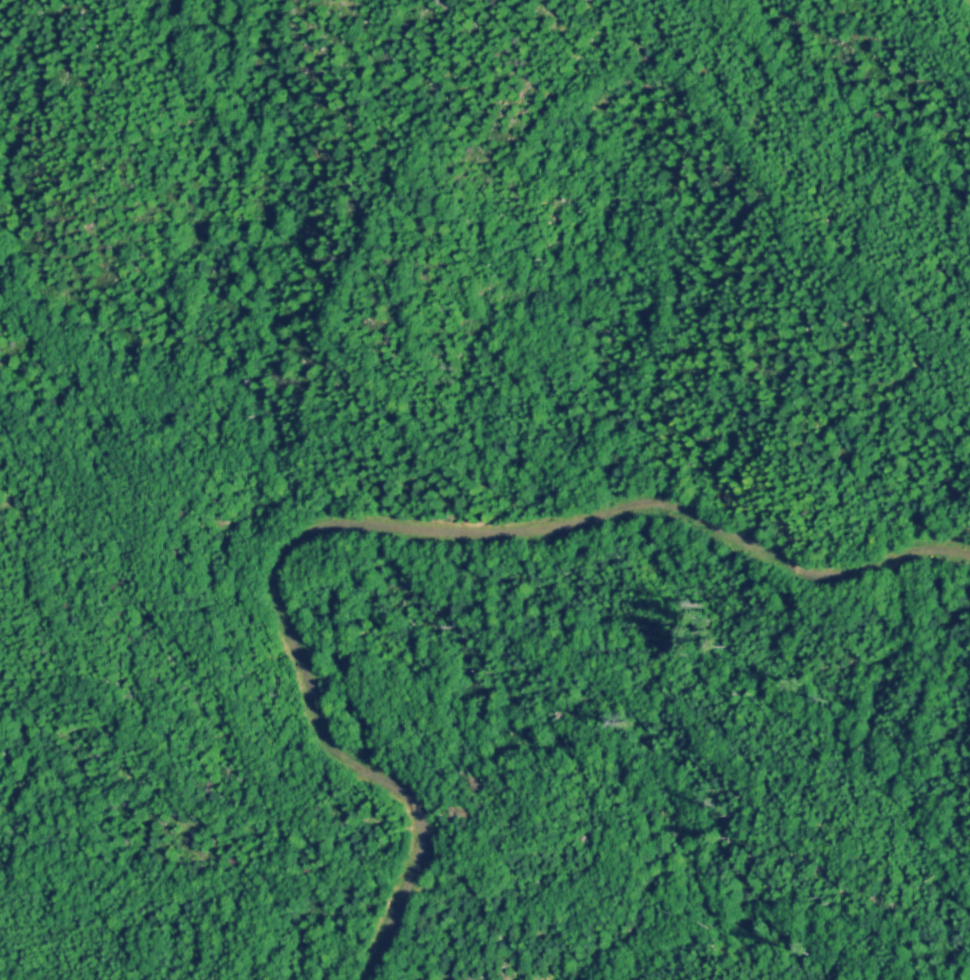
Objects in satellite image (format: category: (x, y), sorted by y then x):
road: (938, 41)
road: (416, 567)

